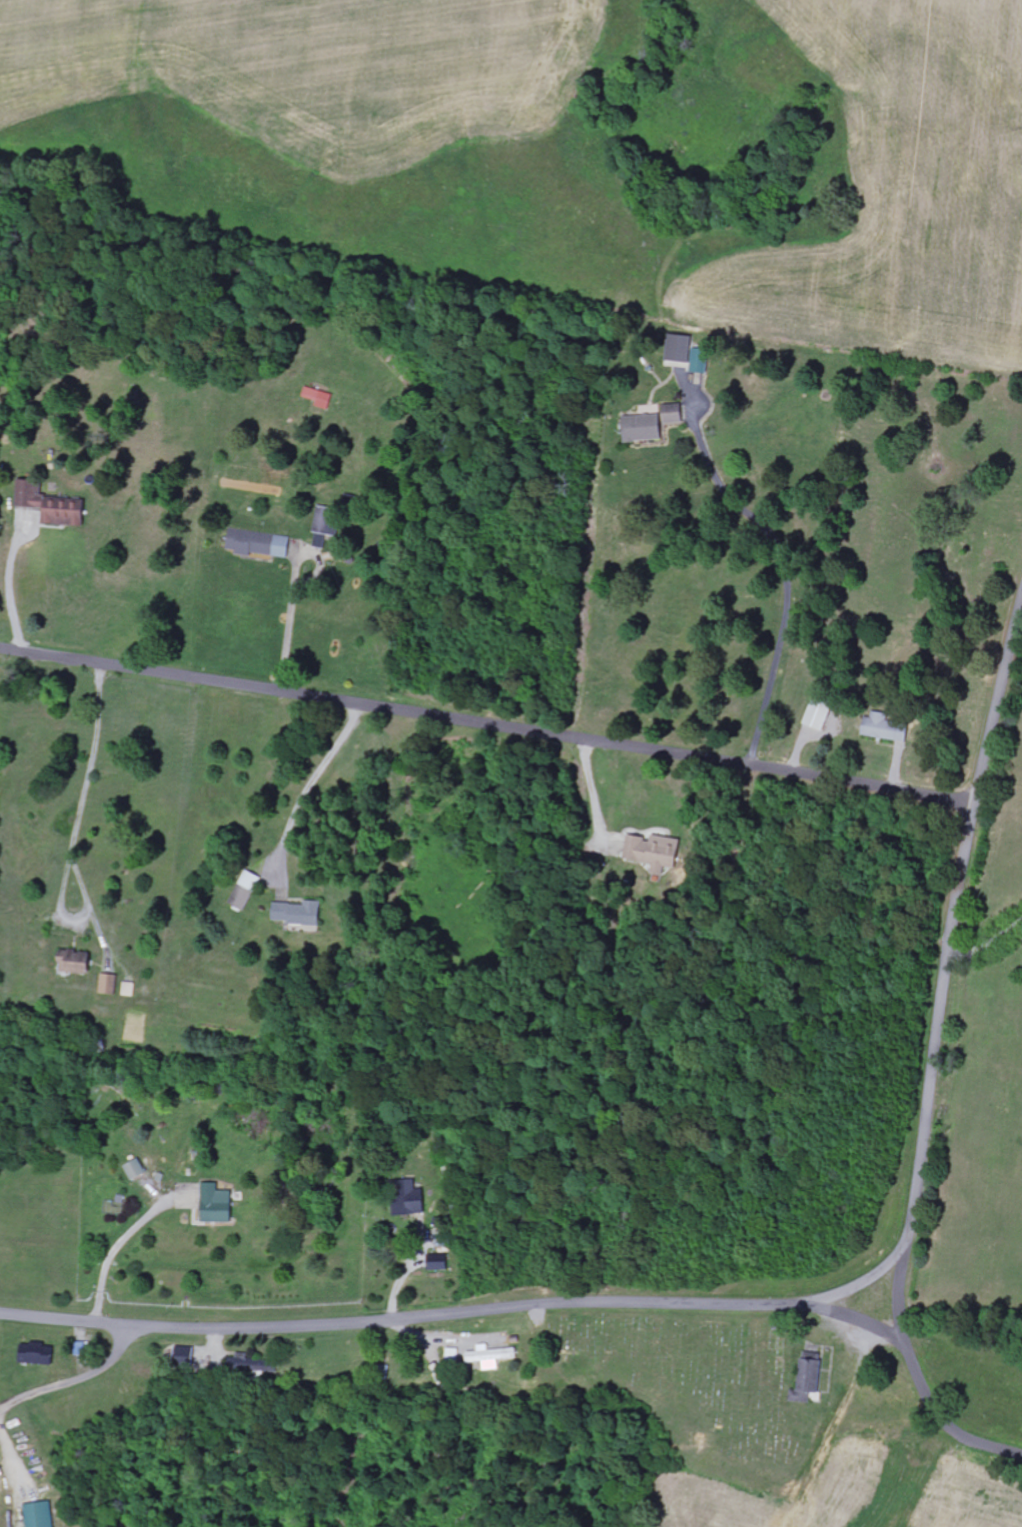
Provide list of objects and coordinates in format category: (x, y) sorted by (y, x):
building: (691, 354)
building: (323, 398)
building: (677, 414)
building: (647, 428)
building: (54, 506)
building: (328, 526)
building: (261, 543)
building: (822, 716)
road: (488, 726)
building: (887, 728)
road: (78, 830)
building: (657, 853)
building: (247, 891)
building: (300, 914)
building: (78, 963)
building: (110, 984)
building: (130, 989)
building: (138, 1169)
building: (410, 1198)
building: (219, 1204)
building: (440, 1263)
road: (783, 1307)
road: (852, 1315)
building: (40, 1354)
building: (188, 1357)
building: (494, 1357)
building: (258, 1365)
building: (811, 1378)
road: (919, 1379)
road: (76, 1383)
park: (702, 1390)
building: (42, 1515)

